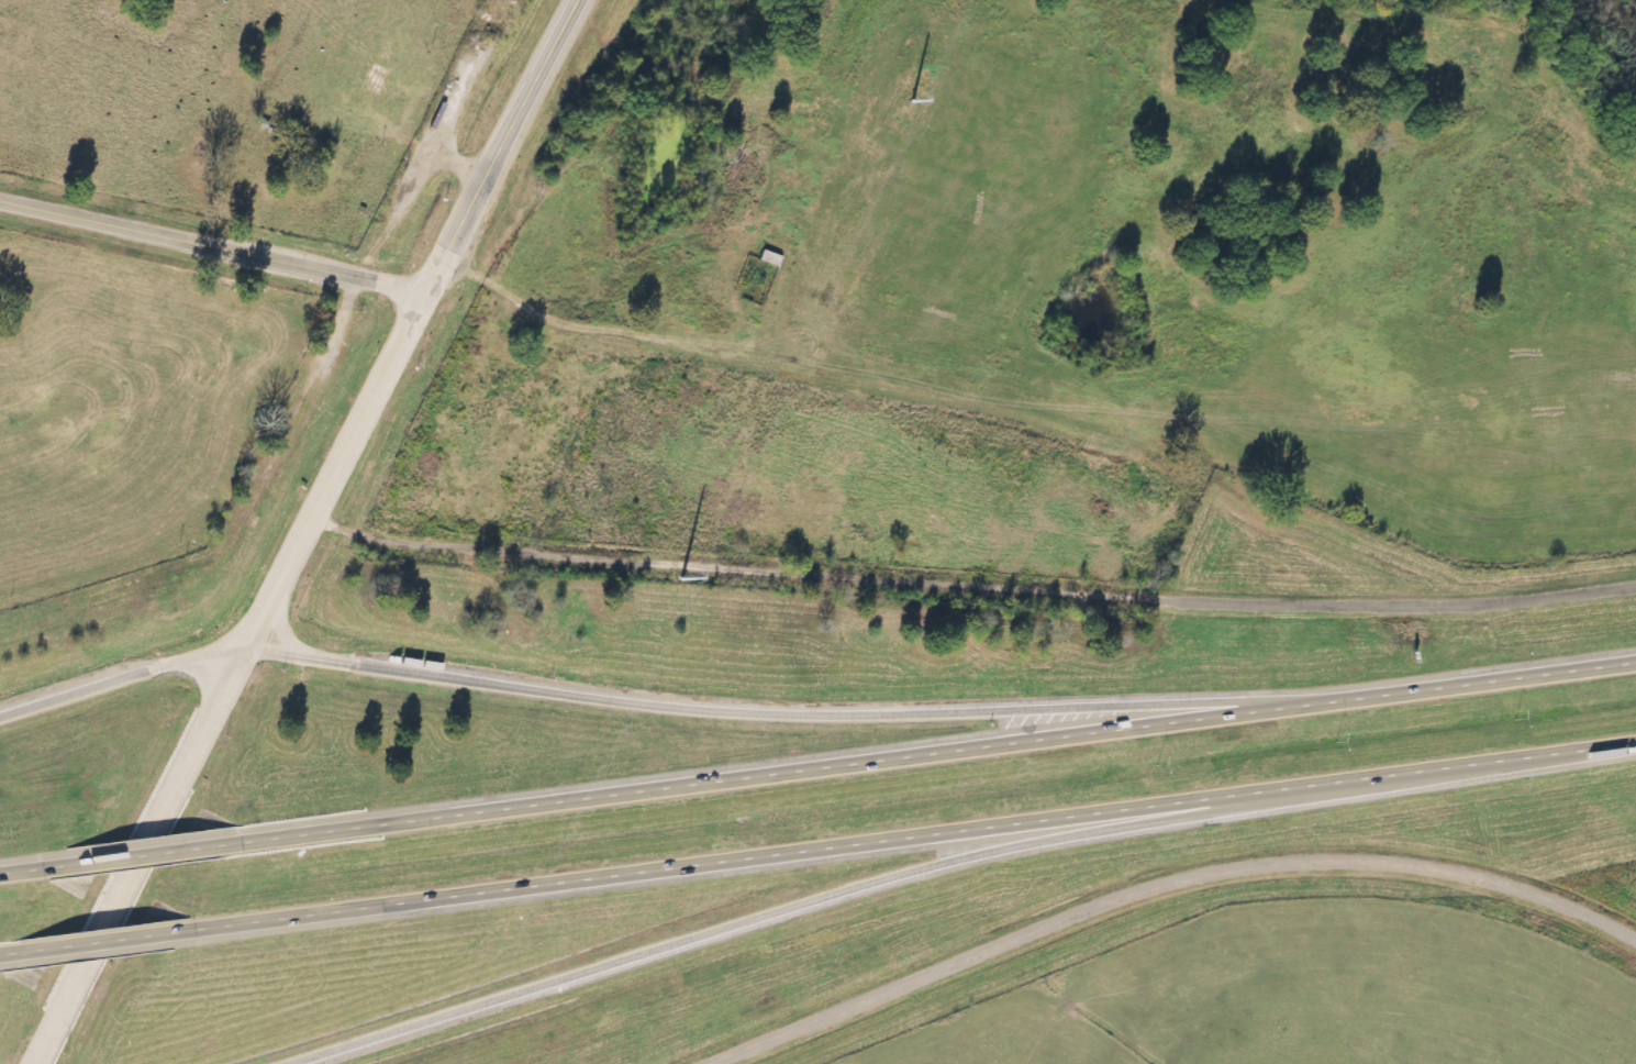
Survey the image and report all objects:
power tower: (911, 93)
road: (511, 122)
road: (210, 248)
road: (765, 361)
road: (968, 580)
road: (237, 652)
road: (121, 679)
road: (786, 708)
road: (932, 750)
road: (906, 836)
road: (141, 852)
road: (26, 866)
road: (1168, 888)
road: (731, 923)
road: (93, 941)
road: (4, 951)

